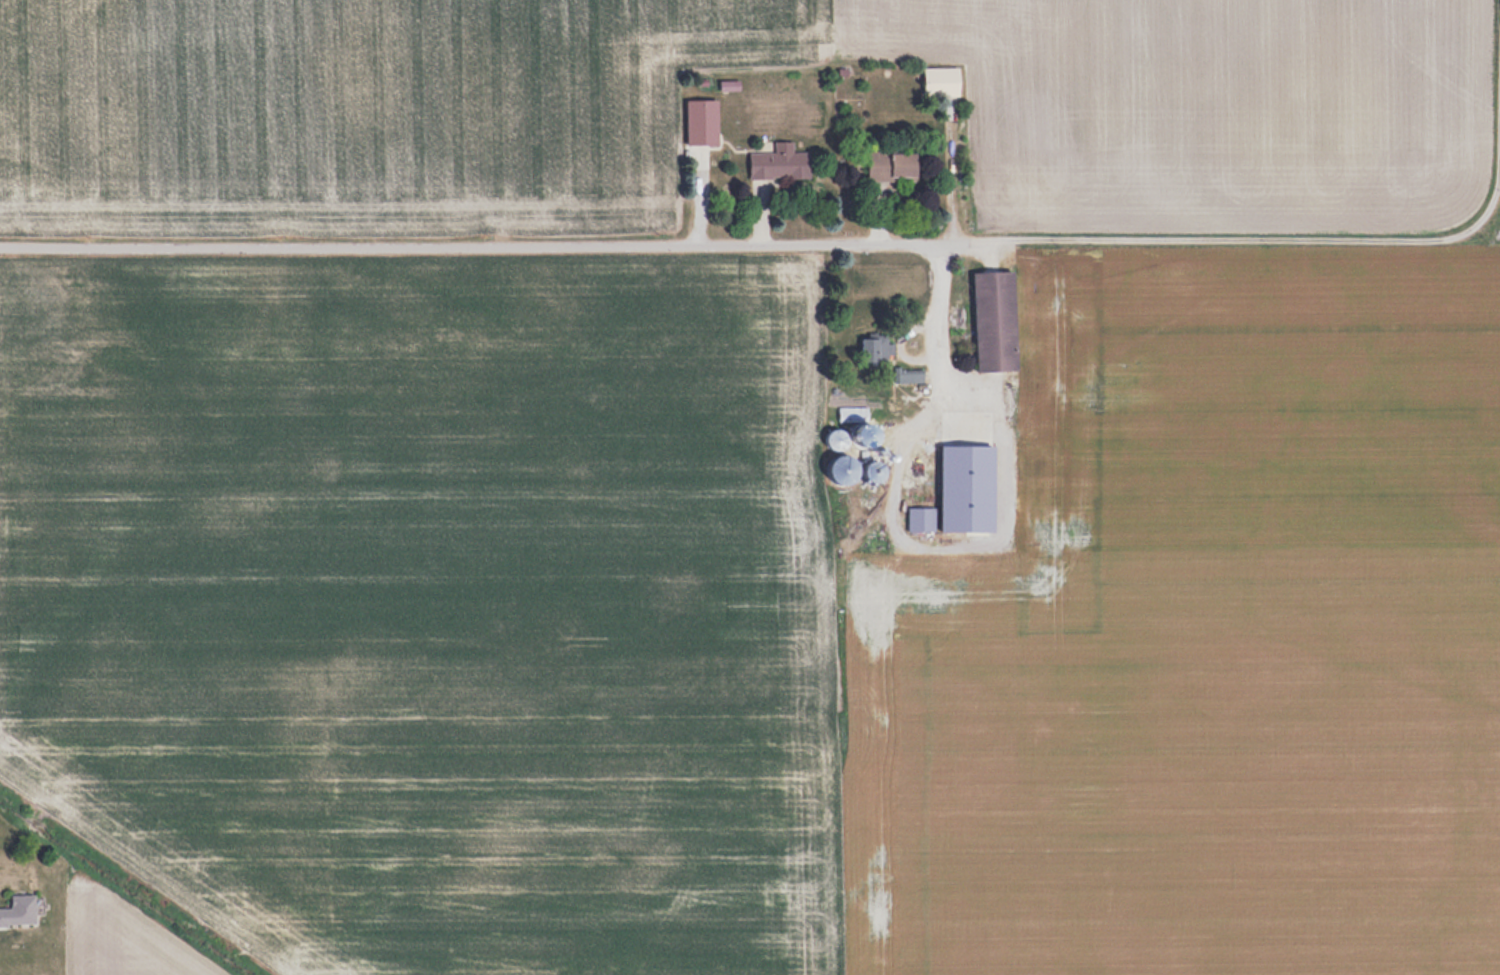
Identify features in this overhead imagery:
building: (940, 81)
building: (728, 86)
building: (700, 122)
building: (779, 163)
building: (890, 164)
road: (766, 249)
building: (994, 320)
building: (875, 346)
building: (909, 374)
building: (851, 413)
building: (836, 437)
building: (956, 439)
building: (924, 447)
building: (853, 466)
building: (920, 494)
building: (18, 910)

